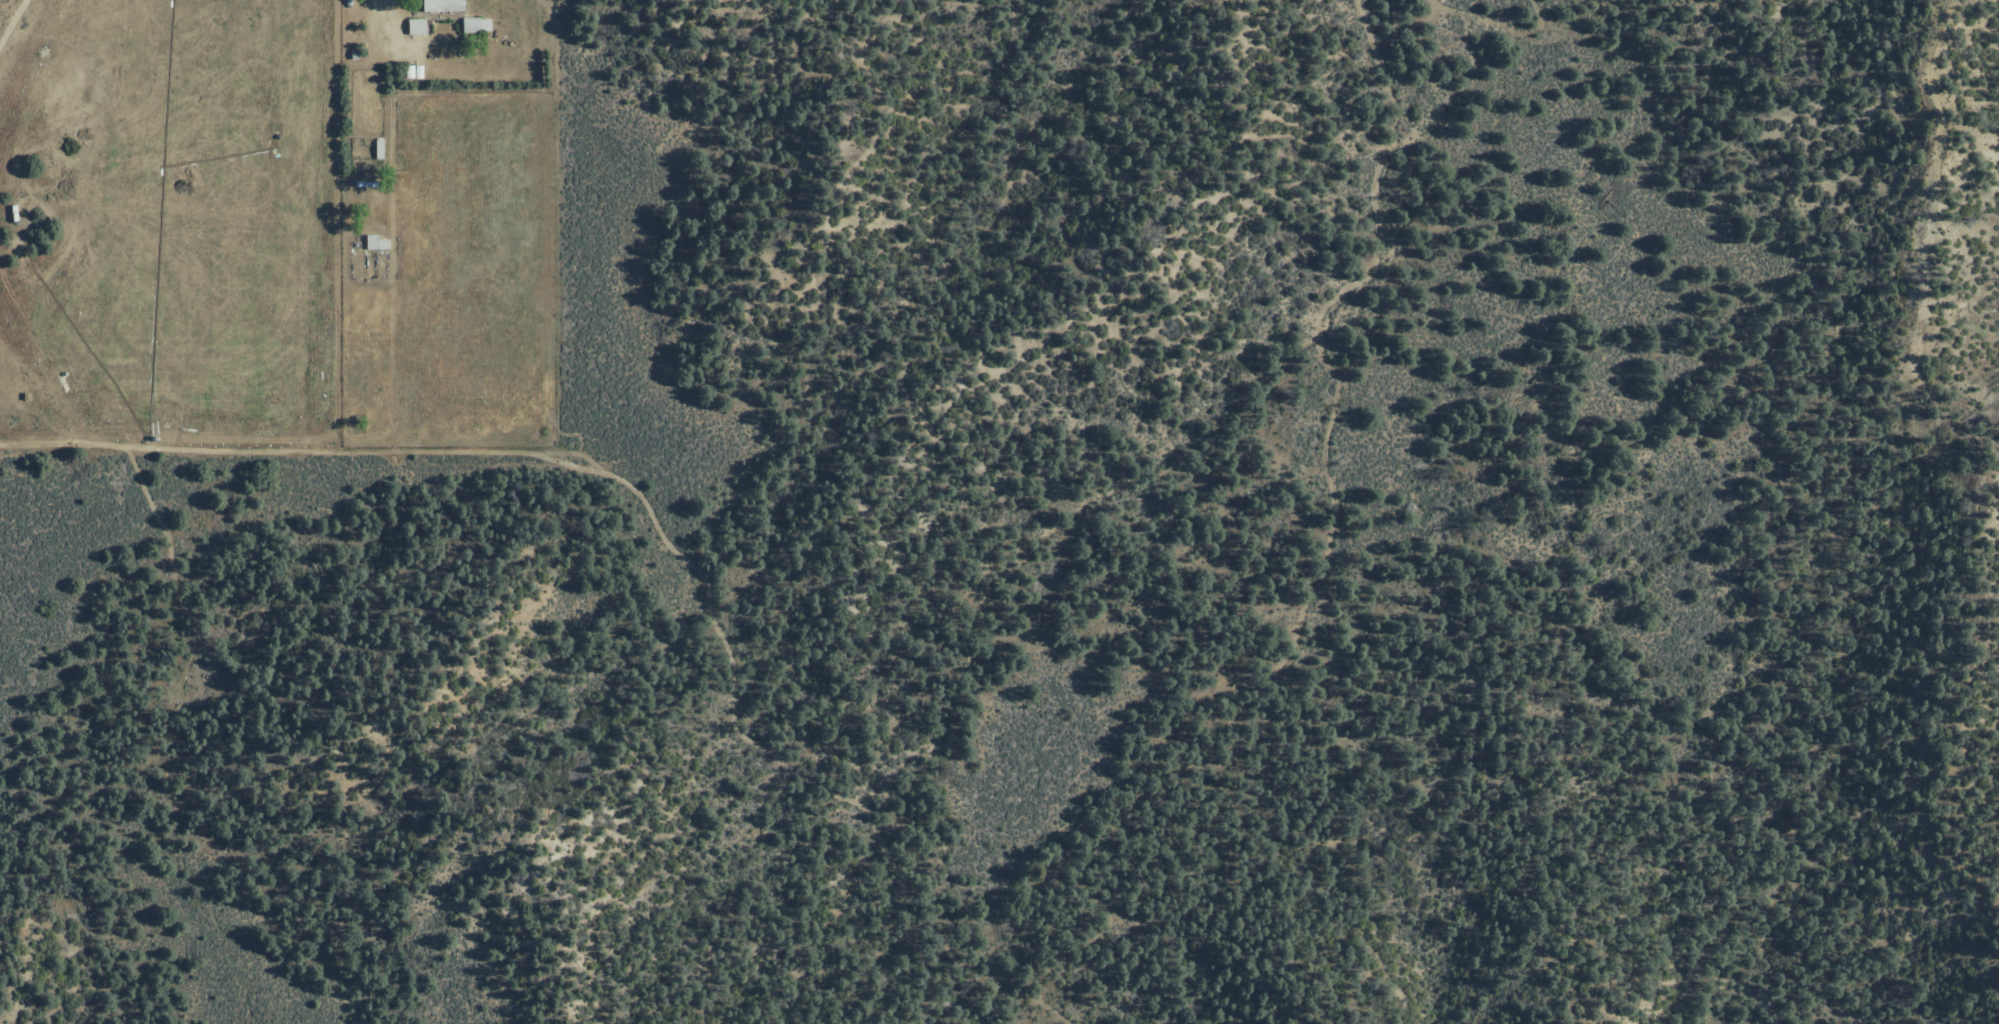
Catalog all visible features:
building: (437, 4)
road: (10, 18)
road: (389, 19)
building: (476, 24)
building: (416, 25)

